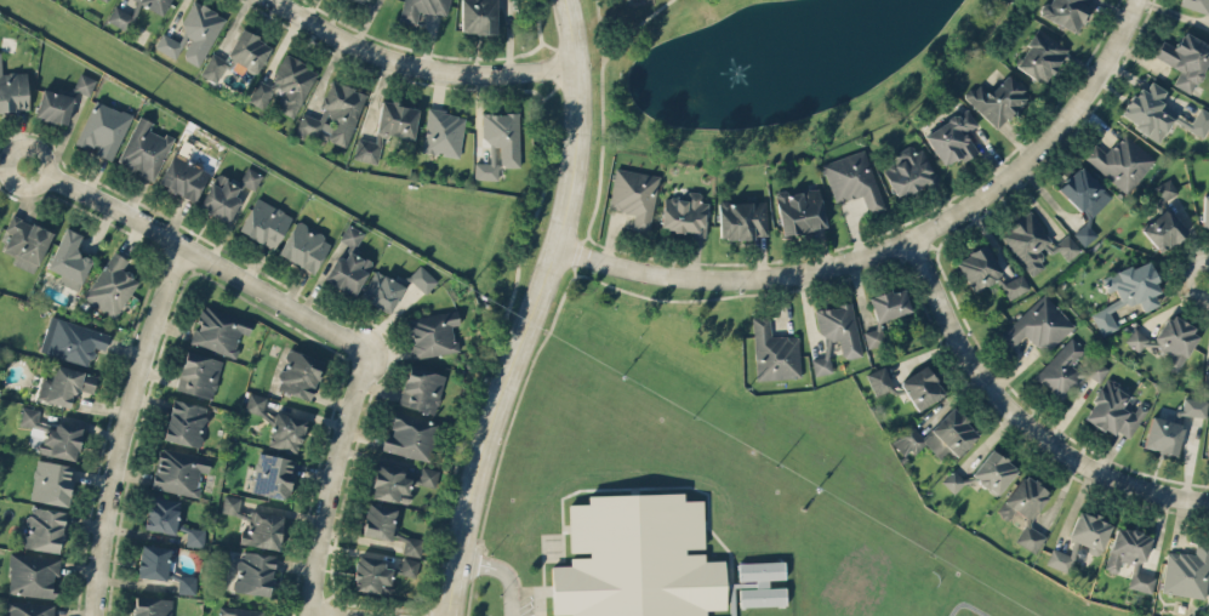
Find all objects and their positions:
building: (361, 1)
building: (1196, 4)
building: (421, 10)
building: (135, 12)
building: (1065, 12)
building: (479, 16)
road: (614, 27)
road: (637, 28)
building: (1208, 30)
building: (193, 34)
building: (249, 50)
building: (1040, 56)
building: (1185, 59)
road: (418, 64)
building: (213, 67)
building: (84, 82)
building: (285, 86)
building: (13, 90)
building: (998, 99)
building: (53, 105)
building: (1159, 113)
building: (333, 116)
building: (397, 119)
building: (103, 129)
building: (443, 132)
road: (603, 133)
building: (951, 138)
building: (498, 142)
building: (144, 149)
building: (366, 149)
building: (1120, 161)
building: (908, 171)
building: (183, 176)
building: (250, 177)
building: (852, 178)
building: (633, 194)
building: (219, 198)
building: (1084, 199)
building: (799, 210)
building: (1205, 211)
building: (684, 213)
building: (741, 218)
building: (1164, 219)
building: (264, 222)
building: (350, 235)
building: (27, 243)
building: (1034, 243)
road: (901, 244)
building: (304, 246)
road: (198, 258)
building: (69, 259)
building: (348, 272)
building: (987, 272)
building: (422, 278)
building: (110, 285)
building: (382, 291)
building: (1128, 292)
building: (889, 303)
road: (535, 309)
building: (1038, 324)
building: (218, 329)
building: (432, 333)
building: (836, 335)
building: (873, 336)
building: (72, 340)
building: (1168, 341)
building: (774, 352)
building: (1067, 369)
building: (198, 373)
building: (298, 373)
building: (1205, 377)
building: (879, 380)
building: (64, 384)
building: (920, 387)
building: (422, 389)
building: (255, 403)
building: (1193, 406)
building: (1113, 410)
road: (1019, 417)
building: (186, 422)
road: (121, 429)
building: (286, 430)
building: (53, 434)
building: (1163, 434)
building: (410, 435)
building: (936, 435)
building: (1208, 444)
building: (178, 470)
building: (993, 470)
building: (273, 474)
building: (953, 480)
building: (51, 481)
road: (329, 481)
building: (399, 481)
building: (1025, 509)
building: (161, 513)
building: (256, 524)
building: (388, 526)
building: (44, 529)
building: (1088, 530)
building: (195, 536)
building: (1130, 555)
building: (637, 558)
building: (1059, 559)
building: (153, 560)
building: (409, 565)
building: (253, 571)
building: (1187, 571)
road: (502, 572)
building: (33, 574)
building: (762, 582)
building: (187, 583)
building: (152, 606)
building: (29, 608)
building: (241, 611)

